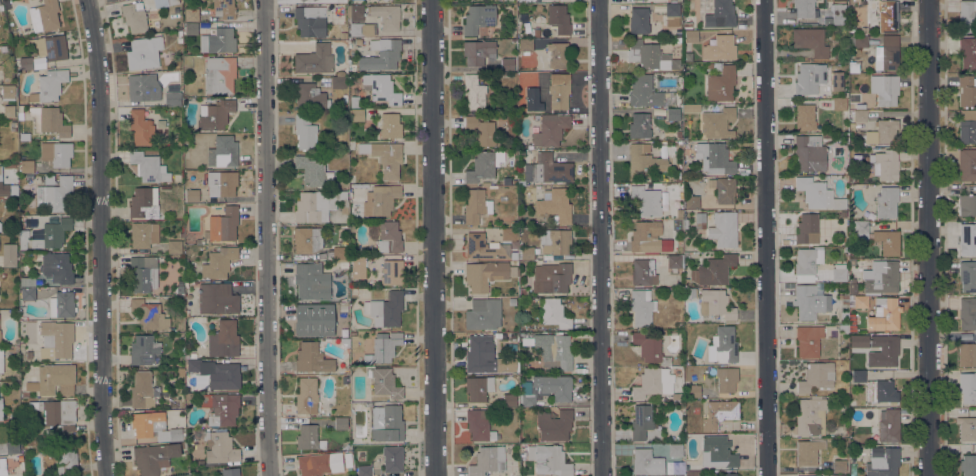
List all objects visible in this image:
building: (299, 0)
building: (301, 0)
building: (305, 0)
building: (376, 0)
building: (383, 0)
building: (557, 0)
building: (171, 2)
building: (1, 7)
building: (804, 8)
building: (224, 9)
building: (355, 12)
building: (838, 13)
building: (48, 14)
building: (672, 14)
building: (883, 14)
building: (191, 15)
building: (720, 15)
building: (385, 16)
building: (967, 16)
building: (134, 17)
building: (478, 18)
building: (558, 19)
building: (826, 20)
building: (310, 21)
building: (638, 21)
building: (191, 29)
building: (362, 29)
building: (536, 32)
building: (343, 35)
building: (690, 36)
building: (217, 41)
building: (810, 41)
building: (859, 41)
building: (525, 45)
building: (51, 47)
building: (720, 47)
building: (478, 52)
building: (143, 53)
building: (968, 53)
building: (380, 55)
building: (558, 55)
building: (649, 56)
building: (887, 58)
building: (314, 59)
building: (25, 63)
building: (507, 64)
building: (352, 66)
building: (717, 67)
building: (853, 67)
building: (340, 73)
building: (219, 75)
building: (535, 76)
building: (808, 78)
building: (337, 82)
building: (721, 84)
building: (49, 86)
building: (142, 88)
building: (381, 88)
building: (884, 89)
building: (967, 90)
building: (8, 91)
building: (559, 91)
building: (473, 92)
building: (644, 92)
building: (310, 97)
building: (172, 98)
building: (354, 101)
building: (839, 104)
building: (859, 106)
building: (691, 109)
building: (8, 111)
building: (214, 114)
building: (672, 114)
building: (355, 115)
building: (860, 115)
building: (804, 117)
building: (49, 121)
building: (717, 123)
building: (639, 125)
building: (390, 126)
building: (13, 127)
building: (140, 127)
building: (549, 130)
building: (480, 131)
building: (304, 132)
building: (882, 132)
building: (967, 132)
building: (660, 136)
building: (222, 152)
building: (520, 152)
building: (56, 153)
building: (809, 153)
building: (384, 157)
building: (714, 158)
building: (644, 162)
building: (967, 164)
building: (885, 165)
building: (9, 166)
building: (26, 166)
building: (483, 166)
building: (148, 167)
building: (547, 169)
building: (313, 172)
building: (678, 174)
building: (48, 179)
building: (506, 181)
building: (221, 183)
building: (489, 185)
building: (3, 187)
building: (352, 187)
building: (723, 189)
building: (818, 194)
building: (55, 195)
building: (192, 195)
building: (380, 200)
building: (646, 200)
building: (691, 202)
building: (886, 202)
building: (142, 203)
building: (318, 205)
building: (555, 205)
building: (967, 205)
building: (475, 207)
building: (678, 213)
building: (843, 214)
building: (700, 221)
building: (513, 224)
building: (222, 225)
building: (0, 226)
building: (723, 229)
building: (807, 229)
building: (859, 231)
building: (52, 234)
building: (507, 234)
building: (143, 235)
road: (106, 237)
building: (388, 237)
road: (271, 238)
road: (435, 238)
road: (600, 238)
building: (648, 238)
road: (764, 238)
road: (928, 238)
building: (967, 239)
building: (307, 240)
building: (554, 241)
building: (887, 242)
building: (22, 245)
building: (174, 246)
building: (483, 247)
building: (857, 252)
building: (525, 253)
building: (339, 254)
building: (9, 255)
building: (680, 255)
building: (807, 261)
building: (219, 262)
building: (674, 263)
building: (343, 264)
building: (57, 267)
building: (358, 267)
building: (712, 271)
building: (391, 272)
building: (839, 272)
building: (142, 273)
building: (642, 273)
building: (486, 274)
building: (967, 276)
building: (880, 277)
building: (551, 278)
building: (27, 282)
building: (311, 282)
building: (852, 286)
building: (688, 293)
building: (27, 294)
building: (850, 297)
building: (217, 299)
building: (845, 299)
building: (511, 301)
building: (810, 301)
building: (860, 301)
building: (715, 304)
building: (61, 305)
building: (343, 307)
building: (641, 307)
building: (385, 309)
building: (186, 313)
building: (553, 313)
building: (149, 314)
building: (482, 314)
building: (967, 314)
building: (844, 315)
building: (887, 316)
building: (313, 320)
building: (843, 329)
building: (521, 334)
building: (57, 337)
building: (512, 337)
building: (223, 339)
building: (808, 340)
building: (527, 341)
building: (724, 344)
building: (382, 348)
building: (649, 348)
building: (144, 351)
building: (554, 351)
building: (882, 351)
building: (44, 352)
building: (28, 355)
building: (967, 355)
building: (192, 356)
building: (485, 356)
building: (312, 359)
building: (1, 360)
building: (346, 371)
building: (216, 373)
building: (858, 376)
building: (816, 377)
building: (344, 379)
building: (726, 379)
building: (52, 380)
building: (383, 382)
building: (654, 383)
building: (967, 387)
building: (478, 388)
building: (547, 389)
building: (141, 390)
building: (693, 391)
building: (880, 391)
building: (188, 396)
building: (306, 396)
building: (509, 400)
building: (168, 402)
building: (220, 408)
building: (0, 410)
building: (56, 413)
building: (327, 413)
building: (718, 413)
building: (13, 417)
building: (810, 417)
building: (385, 422)
building: (640, 422)
building: (340, 423)
building: (478, 424)
building: (553, 424)
building: (888, 425)
building: (154, 427)
building: (967, 428)
building: (308, 438)
building: (182, 445)
building: (8, 447)
building: (219, 447)
building: (675, 450)
building: (718, 450)
building: (808, 451)
building: (64, 456)
building: (347, 456)
building: (154, 458)
building: (392, 458)
building: (487, 460)
building: (548, 460)
building: (646, 462)
building: (882, 462)
building: (200, 463)
building: (348, 463)
building: (319, 464)
building: (968, 465)
building: (839, 466)
building: (2, 467)
building: (364, 470)
building: (230, 472)
building: (512, 474)
building: (727, 474)
building: (806, 475)
building: (806, 475)
building: (827, 475)

